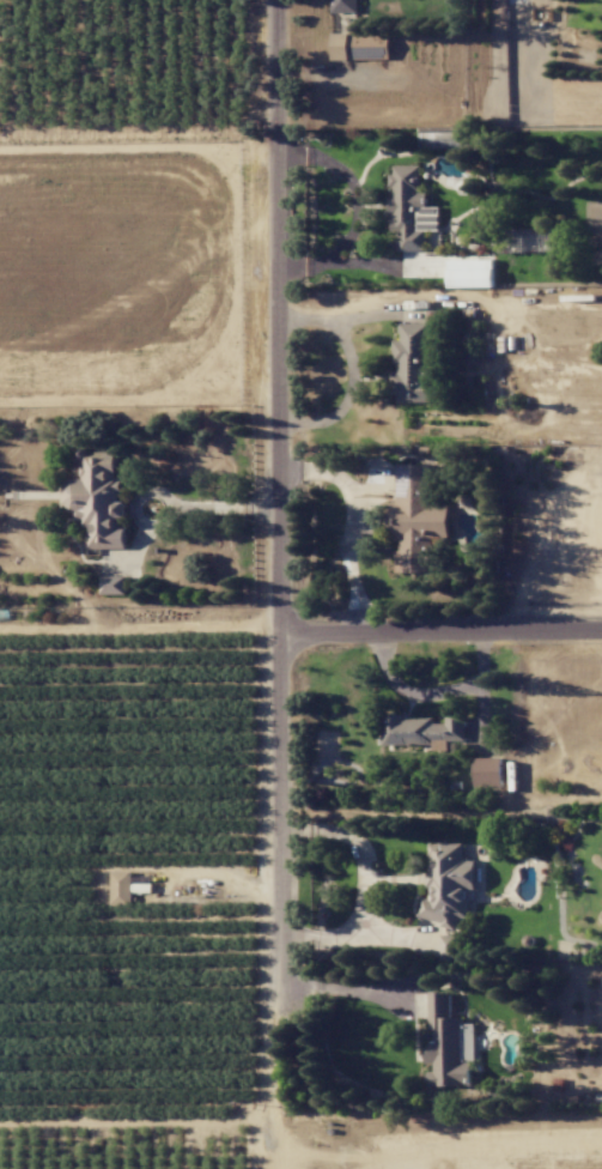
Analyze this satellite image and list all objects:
building: (345, 6)
building: (360, 46)
building: (411, 208)
road: (359, 210)
building: (470, 273)
road: (282, 317)
building: (414, 365)
building: (98, 499)
road: (217, 509)
building: (416, 517)
building: (114, 584)
road: (442, 635)
building: (424, 731)
building: (488, 771)
road: (360, 848)
road: (280, 876)
building: (449, 884)
building: (122, 888)
road: (359, 935)
building: (450, 946)
road: (346, 987)
building: (449, 1046)
road: (139, 1117)
road: (279, 1141)

